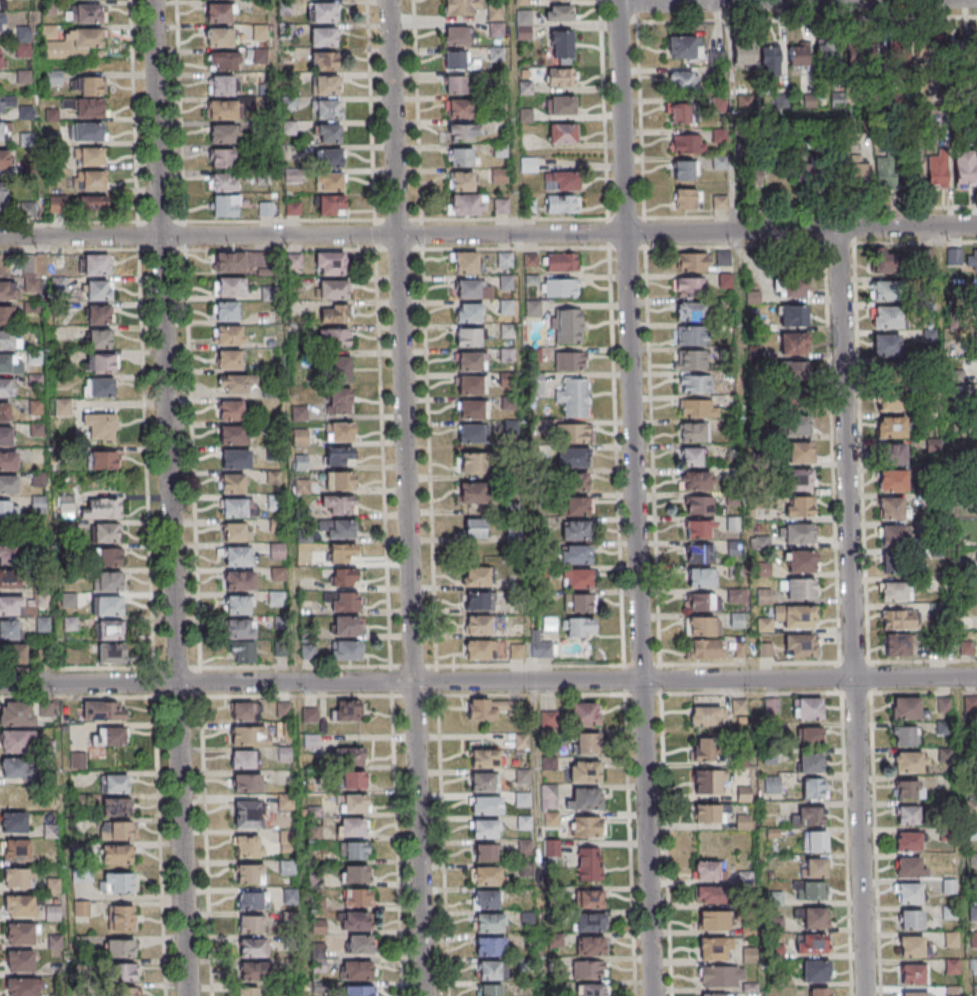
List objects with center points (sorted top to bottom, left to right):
building: (522, 1)
road: (615, 2)
road: (806, 2)
road: (625, 3)
building: (321, 11)
road: (635, 11)
building: (218, 12)
building: (89, 13)
building: (559, 13)
building: (1, 16)
road: (806, 18)
building: (495, 19)
building: (523, 25)
building: (456, 35)
building: (218, 36)
building: (322, 36)
building: (70, 42)
building: (559, 46)
building: (683, 47)
building: (825, 48)
building: (897, 53)
building: (936, 53)
building: (861, 54)
building: (798, 55)
building: (743, 56)
building: (0, 57)
building: (770, 57)
building: (713, 58)
building: (223, 60)
building: (323, 60)
building: (454, 60)
building: (560, 76)
building: (682, 79)
building: (325, 84)
building: (455, 84)
building: (91, 85)
building: (222, 85)
building: (6, 102)
building: (565, 105)
building: (88, 107)
building: (458, 107)
building: (221, 109)
building: (326, 109)
road: (132, 111)
building: (682, 113)
road: (277, 117)
road: (640, 119)
building: (4, 131)
building: (86, 132)
building: (464, 132)
building: (222, 133)
building: (329, 133)
building: (563, 133)
building: (688, 143)
building: (87, 156)
building: (462, 156)
building: (222, 157)
building: (330, 157)
building: (4, 160)
building: (719, 163)
building: (964, 169)
building: (684, 170)
building: (856, 171)
building: (899, 174)
building: (938, 174)
building: (755, 176)
building: (89, 179)
building: (560, 180)
building: (223, 181)
building: (329, 181)
building: (461, 181)
building: (2, 197)
building: (687, 198)
building: (720, 201)
building: (92, 203)
building: (562, 203)
building: (467, 204)
building: (57, 205)
building: (225, 205)
building: (328, 205)
building: (501, 205)
road: (810, 214)
road: (800, 230)
road: (182, 232)
road: (311, 235)
road: (137, 236)
building: (505, 259)
building: (925, 259)
building: (972, 259)
building: (292, 261)
building: (561, 261)
building: (330, 262)
building: (463, 262)
building: (691, 262)
building: (884, 262)
building: (228, 263)
building: (3, 265)
building: (97, 266)
building: (506, 282)
building: (30, 285)
building: (292, 285)
building: (687, 286)
building: (229, 287)
building: (560, 287)
building: (793, 288)
building: (98, 289)
building: (329, 290)
building: (464, 290)
building: (887, 290)
building: (4, 292)
building: (265, 294)
building: (533, 307)
building: (690, 310)
building: (225, 312)
building: (98, 313)
building: (334, 313)
building: (465, 313)
building: (793, 315)
building: (5, 316)
building: (886, 317)
building: (566, 325)
building: (507, 330)
building: (685, 335)
building: (226, 336)
building: (98, 338)
building: (332, 338)
building: (465, 338)
building: (5, 340)
building: (794, 342)
building: (886, 344)
building: (533, 355)
building: (32, 358)
building: (227, 360)
building: (570, 360)
building: (687, 361)
building: (100, 362)
building: (465, 362)
building: (4, 364)
building: (340, 368)
building: (795, 373)
building: (887, 373)
building: (507, 379)
building: (33, 382)
building: (236, 383)
building: (694, 383)
building: (535, 384)
building: (466, 386)
building: (3, 388)
building: (99, 388)
building: (336, 398)
building: (574, 398)
building: (893, 400)
building: (60, 406)
building: (33, 408)
building: (699, 408)
building: (468, 410)
building: (229, 411)
building: (4, 412)
building: (297, 414)
building: (799, 421)
building: (98, 426)
building: (890, 428)
building: (34, 430)
building: (692, 431)
building: (338, 433)
building: (572, 433)
building: (468, 434)
building: (5, 435)
building: (230, 436)
building: (298, 439)
building: (800, 453)
building: (272, 454)
building: (893, 454)
building: (335, 456)
building: (690, 456)
building: (572, 457)
building: (234, 460)
building: (101, 461)
building: (7, 462)
building: (470, 464)
building: (272, 478)
building: (799, 479)
building: (36, 480)
building: (573, 480)
building: (697, 480)
building: (340, 481)
building: (892, 481)
road: (145, 482)
building: (231, 484)
building: (7, 486)
building: (300, 487)
building: (469, 494)
road: (169, 498)
road: (405, 498)
road: (634, 499)
building: (273, 503)
building: (36, 504)
building: (64, 504)
building: (698, 504)
building: (574, 505)
building: (339, 506)
building: (798, 506)
building: (892, 507)
building: (8, 509)
building: (104, 509)
building: (232, 509)
building: (273, 526)
building: (64, 528)
building: (473, 528)
building: (699, 528)
building: (335, 529)
building: (575, 529)
building: (232, 533)
building: (796, 533)
building: (103, 534)
building: (892, 535)
building: (274, 551)
building: (341, 552)
building: (699, 553)
building: (574, 554)
building: (8, 555)
building: (234, 557)
building: (105, 558)
building: (801, 561)
building: (895, 563)
building: (766, 571)
building: (275, 574)
building: (341, 575)
building: (67, 576)
building: (475, 577)
building: (701, 577)
building: (576, 578)
building: (9, 580)
building: (238, 581)
building: (107, 582)
building: (799, 588)
building: (893, 590)
building: (764, 596)
building: (274, 599)
building: (39, 600)
building: (67, 601)
building: (473, 602)
building: (578, 602)
building: (699, 602)
building: (343, 603)
building: (8, 606)
building: (235, 606)
building: (106, 607)
road: (850, 612)
building: (790, 617)
building: (897, 619)
road: (196, 620)
building: (279, 623)
building: (40, 625)
building: (68, 625)
building: (476, 625)
building: (344, 626)
building: (580, 626)
building: (703, 626)
building: (240, 628)
building: (109, 629)
building: (7, 631)
building: (305, 633)
building: (800, 644)
building: (897, 644)
building: (540, 645)
building: (705, 648)
building: (765, 649)
building: (279, 650)
building: (475, 650)
building: (516, 650)
building: (345, 651)
building: (243, 652)
building: (112, 653)
building: (306, 653)
building: (11, 655)
building: (42, 656)
road: (488, 681)
building: (905, 707)
building: (480, 708)
building: (807, 708)
building: (283, 709)
building: (244, 710)
building: (103, 711)
building: (346, 711)
building: (585, 712)
building: (16, 713)
building: (310, 715)
building: (706, 715)
building: (106, 735)
building: (249, 735)
building: (810, 735)
building: (905, 735)
building: (16, 740)
building: (521, 740)
building: (587, 742)
building: (702, 749)
building: (348, 755)
building: (484, 756)
building: (241, 758)
building: (910, 761)
building: (810, 762)
building: (12, 767)
building: (585, 771)
building: (522, 776)
building: (354, 779)
building: (484, 780)
building: (707, 781)
building: (248, 782)
building: (114, 783)
building: (771, 785)
building: (813, 788)
building: (907, 788)
building: (548, 795)
building: (522, 798)
building: (586, 799)
building: (285, 803)
building: (353, 803)
building: (486, 804)
building: (115, 806)
building: (709, 813)
building: (246, 814)
building: (907, 814)
building: (811, 815)
building: (551, 818)
building: (13, 821)
building: (524, 822)
building: (352, 826)
building: (585, 826)
building: (484, 828)
building: (121, 830)
road: (157, 832)
building: (815, 840)
building: (908, 841)
building: (247, 845)
building: (551, 848)
building: (15, 849)
building: (354, 850)
building: (485, 852)
building: (116, 854)
building: (589, 864)
building: (286, 867)
building: (816, 867)
building: (910, 867)
building: (709, 870)
building: (248, 873)
building: (354, 873)
building: (486, 875)
building: (19, 877)
building: (116, 882)
building: (810, 890)
building: (909, 892)
building: (711, 894)
building: (290, 895)
building: (357, 896)
building: (590, 898)
building: (776, 898)
building: (486, 899)
building: (251, 900)
building: (19, 905)
building: (52, 912)
building: (120, 917)
building: (813, 917)
building: (911, 919)
building: (354, 920)
building: (713, 920)
building: (591, 921)
building: (489, 922)
building: (251, 924)
building: (20, 933)
building: (974, 939)
building: (812, 943)
building: (358, 944)
building: (490, 945)
building: (590, 945)
building: (911, 945)
building: (119, 947)
building: (251, 947)
building: (712, 947)
building: (20, 961)
building: (590, 968)
building: (356, 969)
building: (488, 969)
building: (252, 970)
building: (816, 970)
building: (124, 971)
building: (912, 974)
building: (722, 975)
building: (24, 986)
building: (489, 989)
building: (593, 989)
building: (358, 990)
building: (124, 991)
building: (247, 991)
building: (819, 991)
building: (917, 993)
building: (715, 994)
building: (56, 995)

